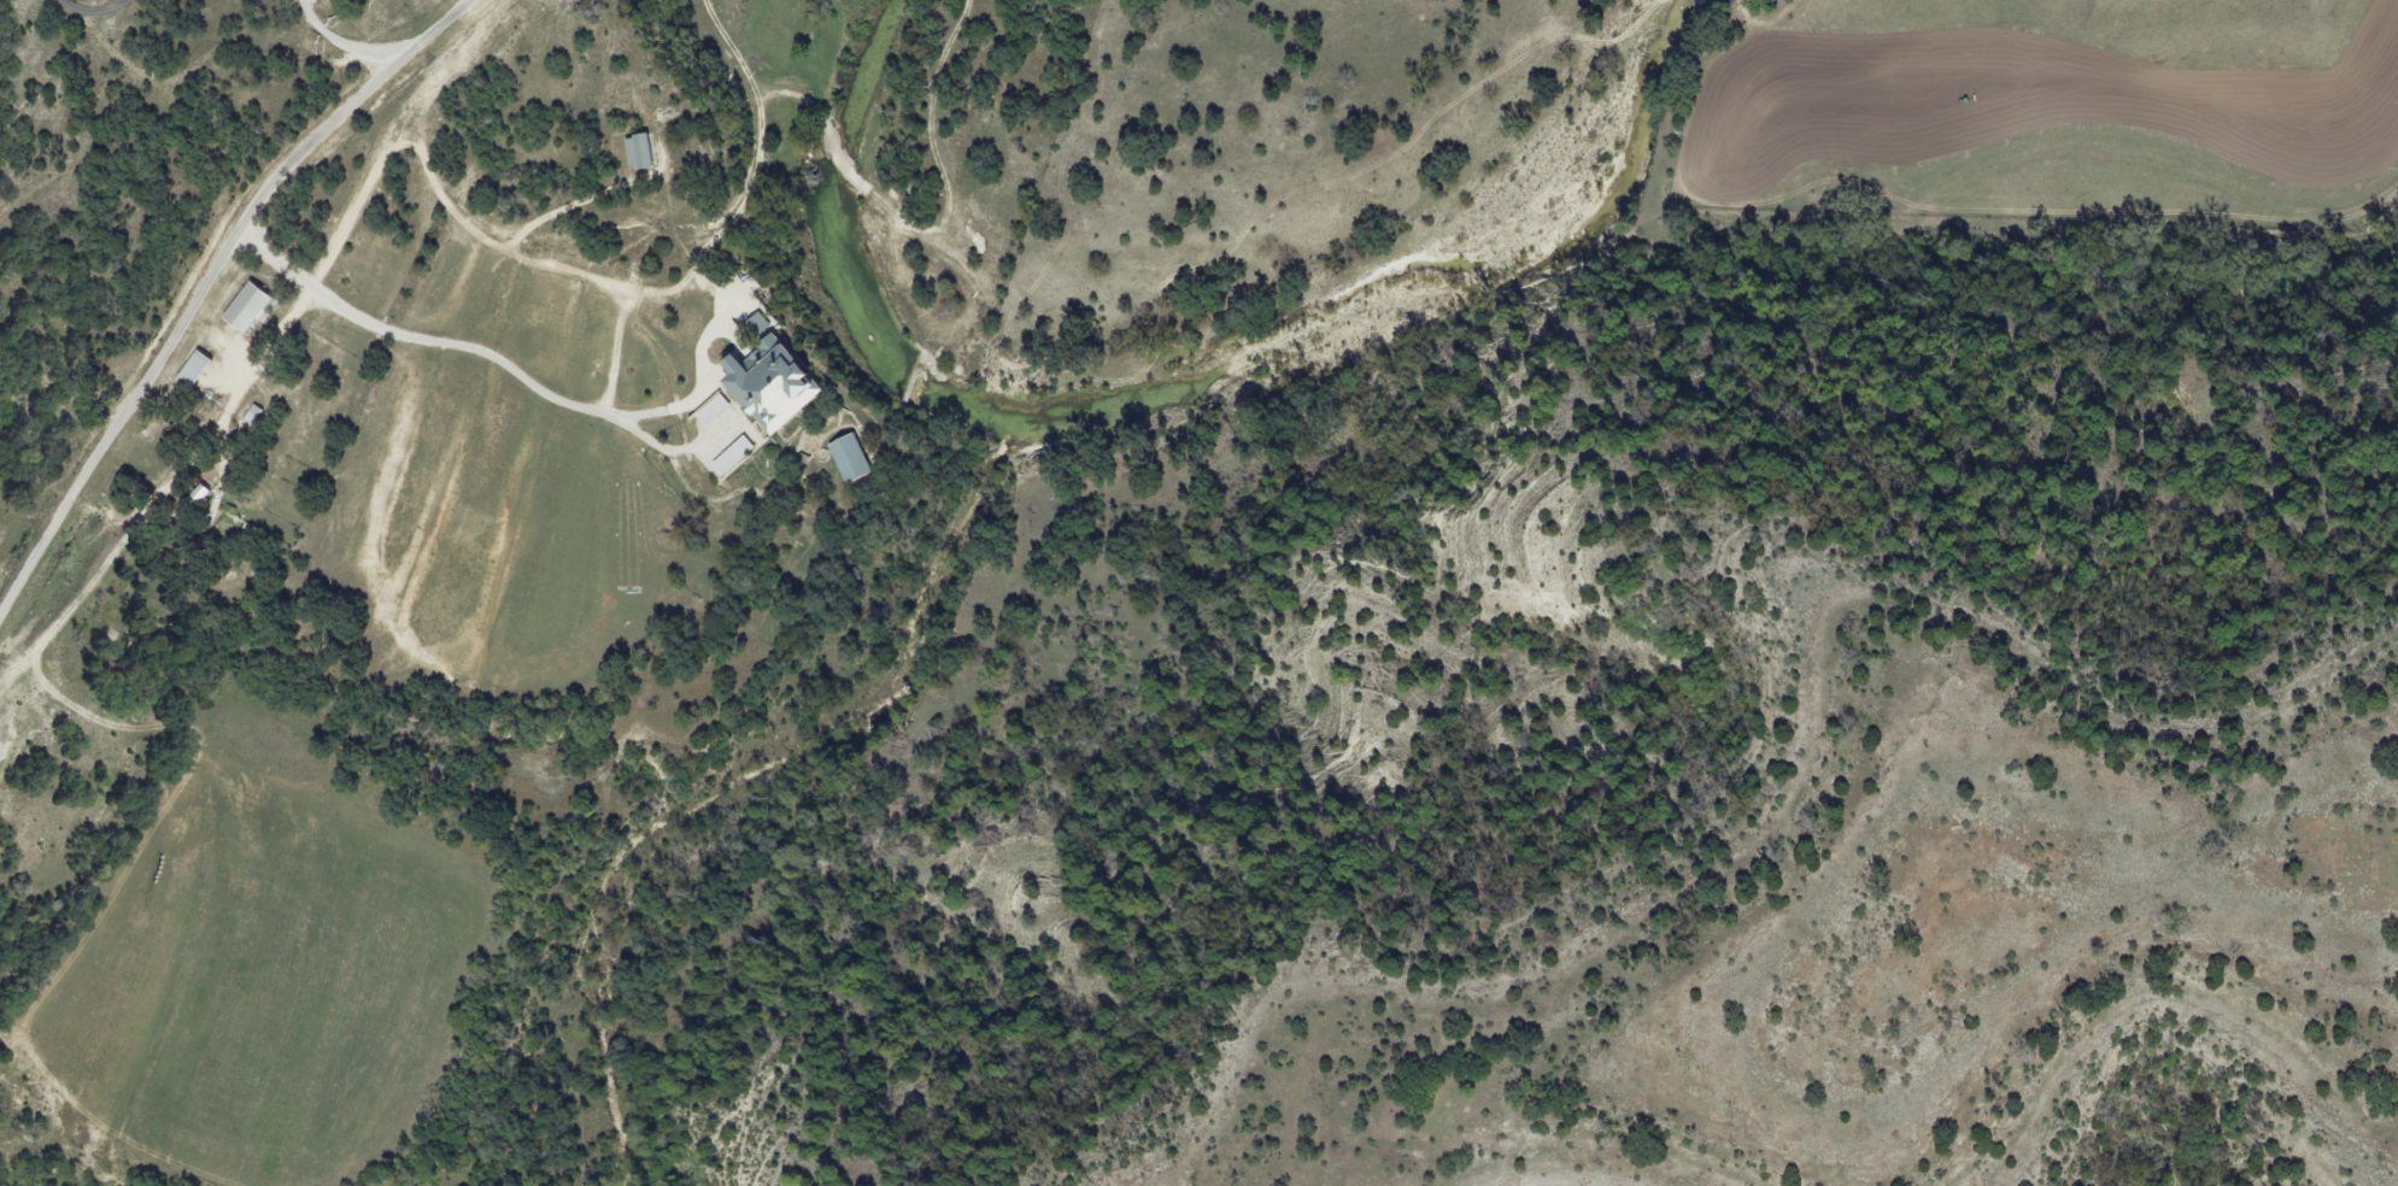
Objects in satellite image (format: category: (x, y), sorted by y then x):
road: (94, 12)
road: (330, 55)
road: (444, 77)
building: (634, 153)
road: (461, 241)
road: (205, 289)
building: (245, 311)
road: (476, 352)
road: (266, 362)
building: (192, 371)
building: (763, 384)
river: (1163, 386)

